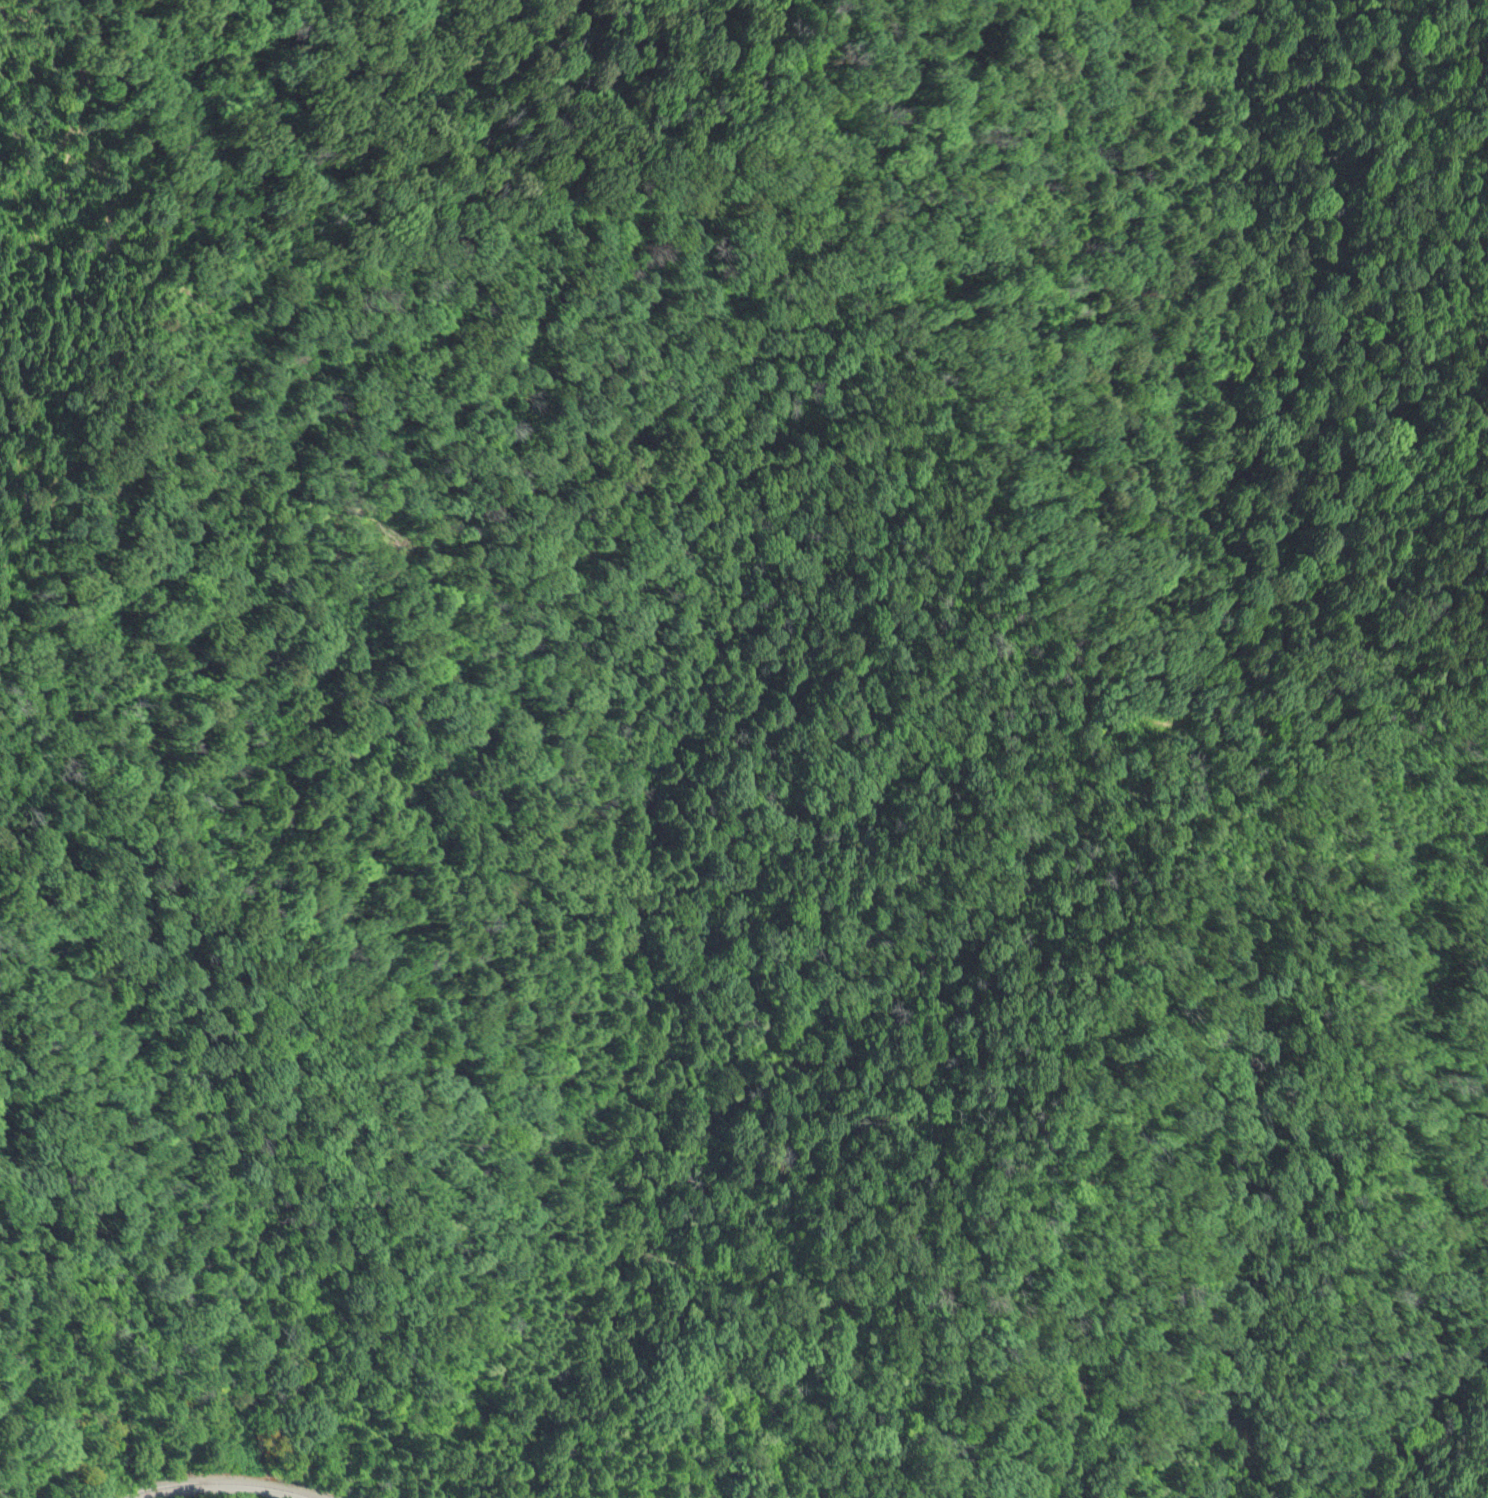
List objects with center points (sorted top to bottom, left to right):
railway: (215, 1481)

